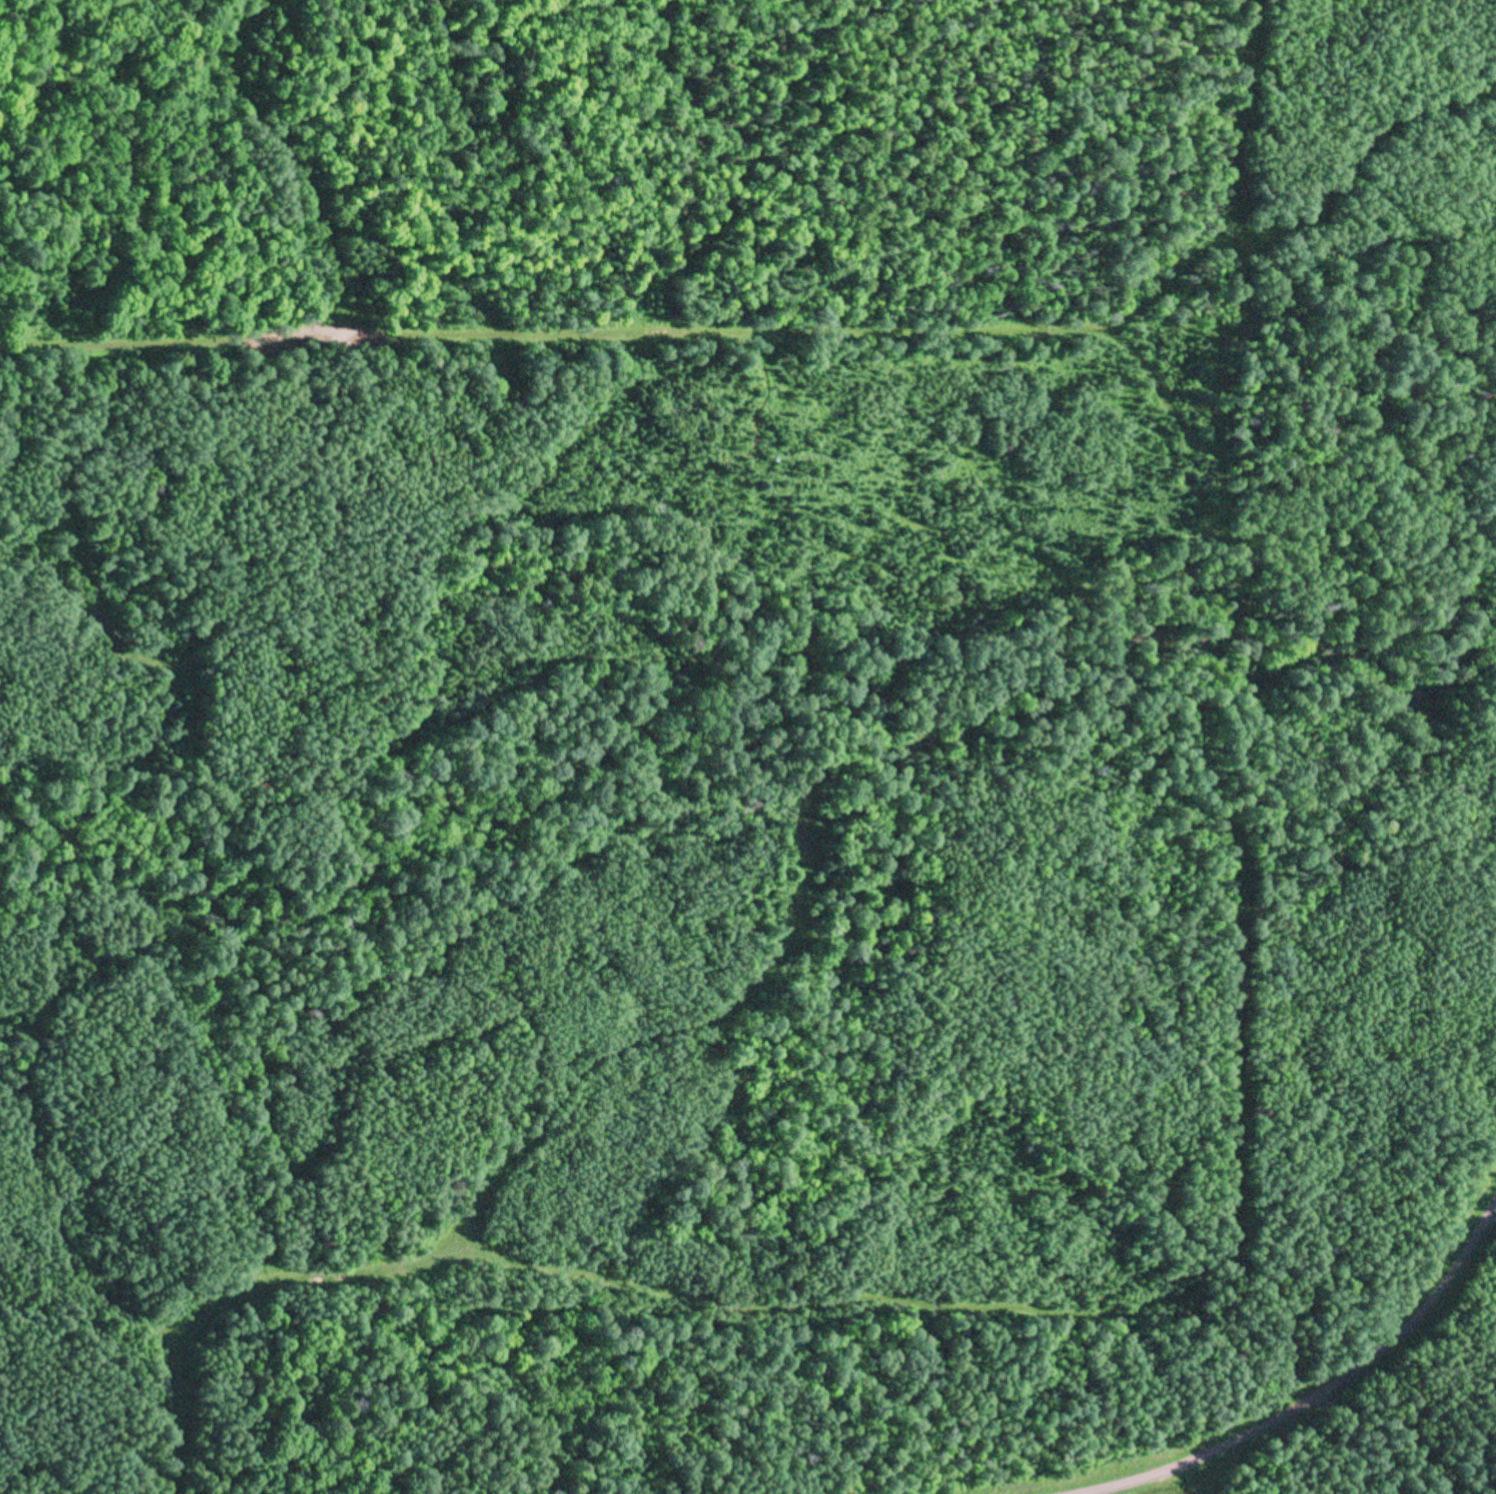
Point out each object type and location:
road: (1321, 1396)

